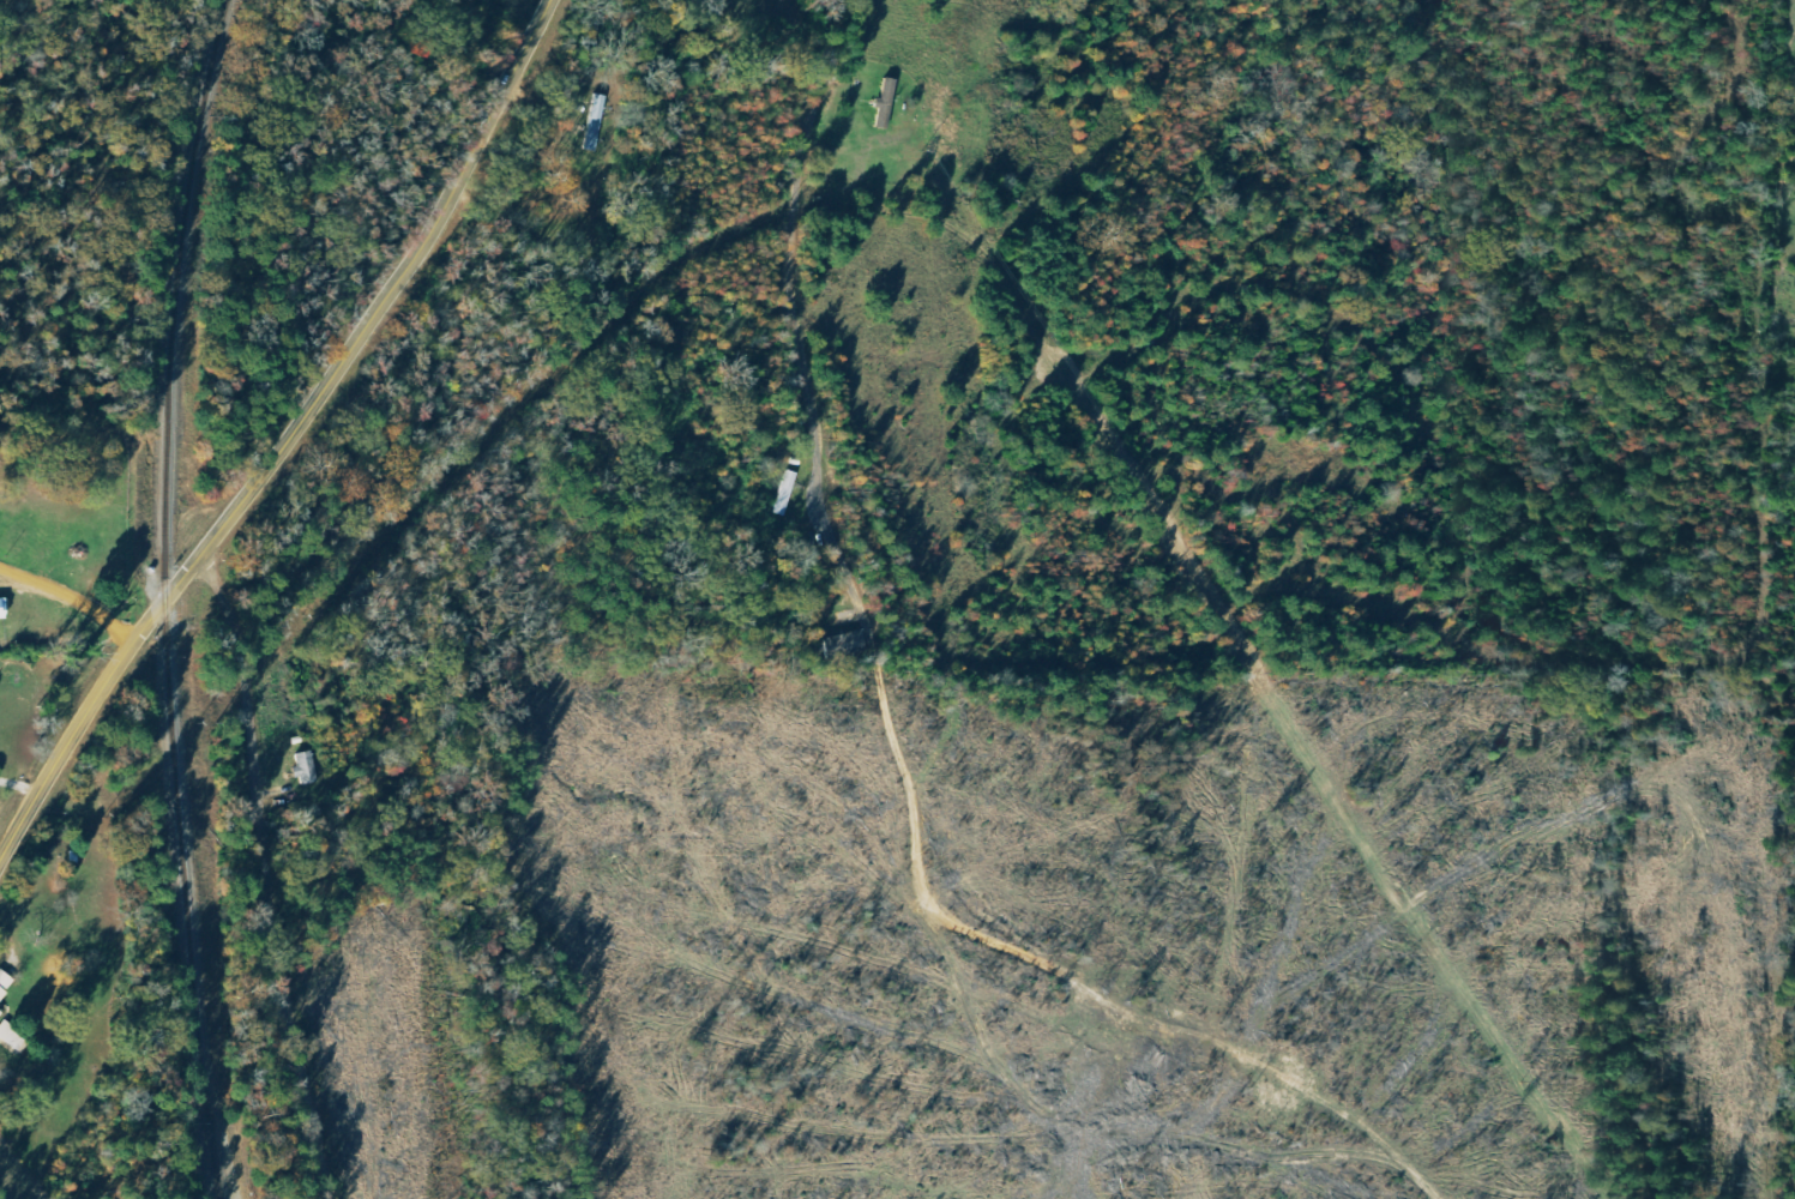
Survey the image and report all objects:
road: (291, 440)
railway: (164, 555)
road: (72, 595)
building: (849, 644)
road: (1741, 725)
road: (843, 734)
road: (22, 785)
road: (266, 914)
building: (6, 984)
building: (1, 1013)
railway: (216, 1157)
railway: (218, 1157)

